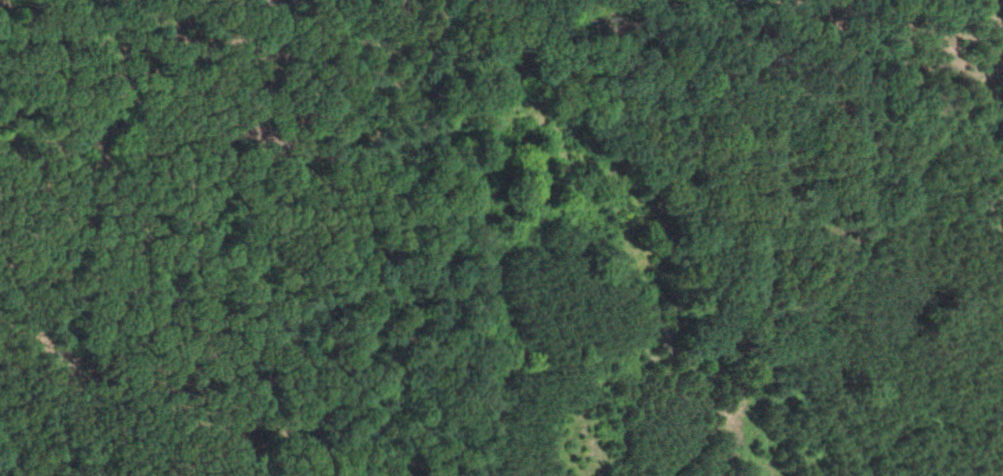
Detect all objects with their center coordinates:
road: (834, 268)
road: (787, 438)

